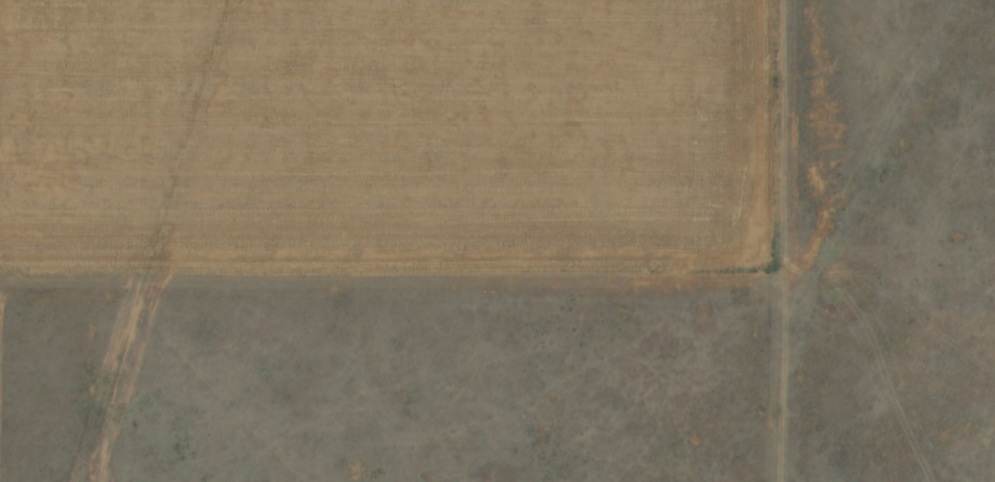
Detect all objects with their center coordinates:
road: (837, 240)
road: (571, 283)

